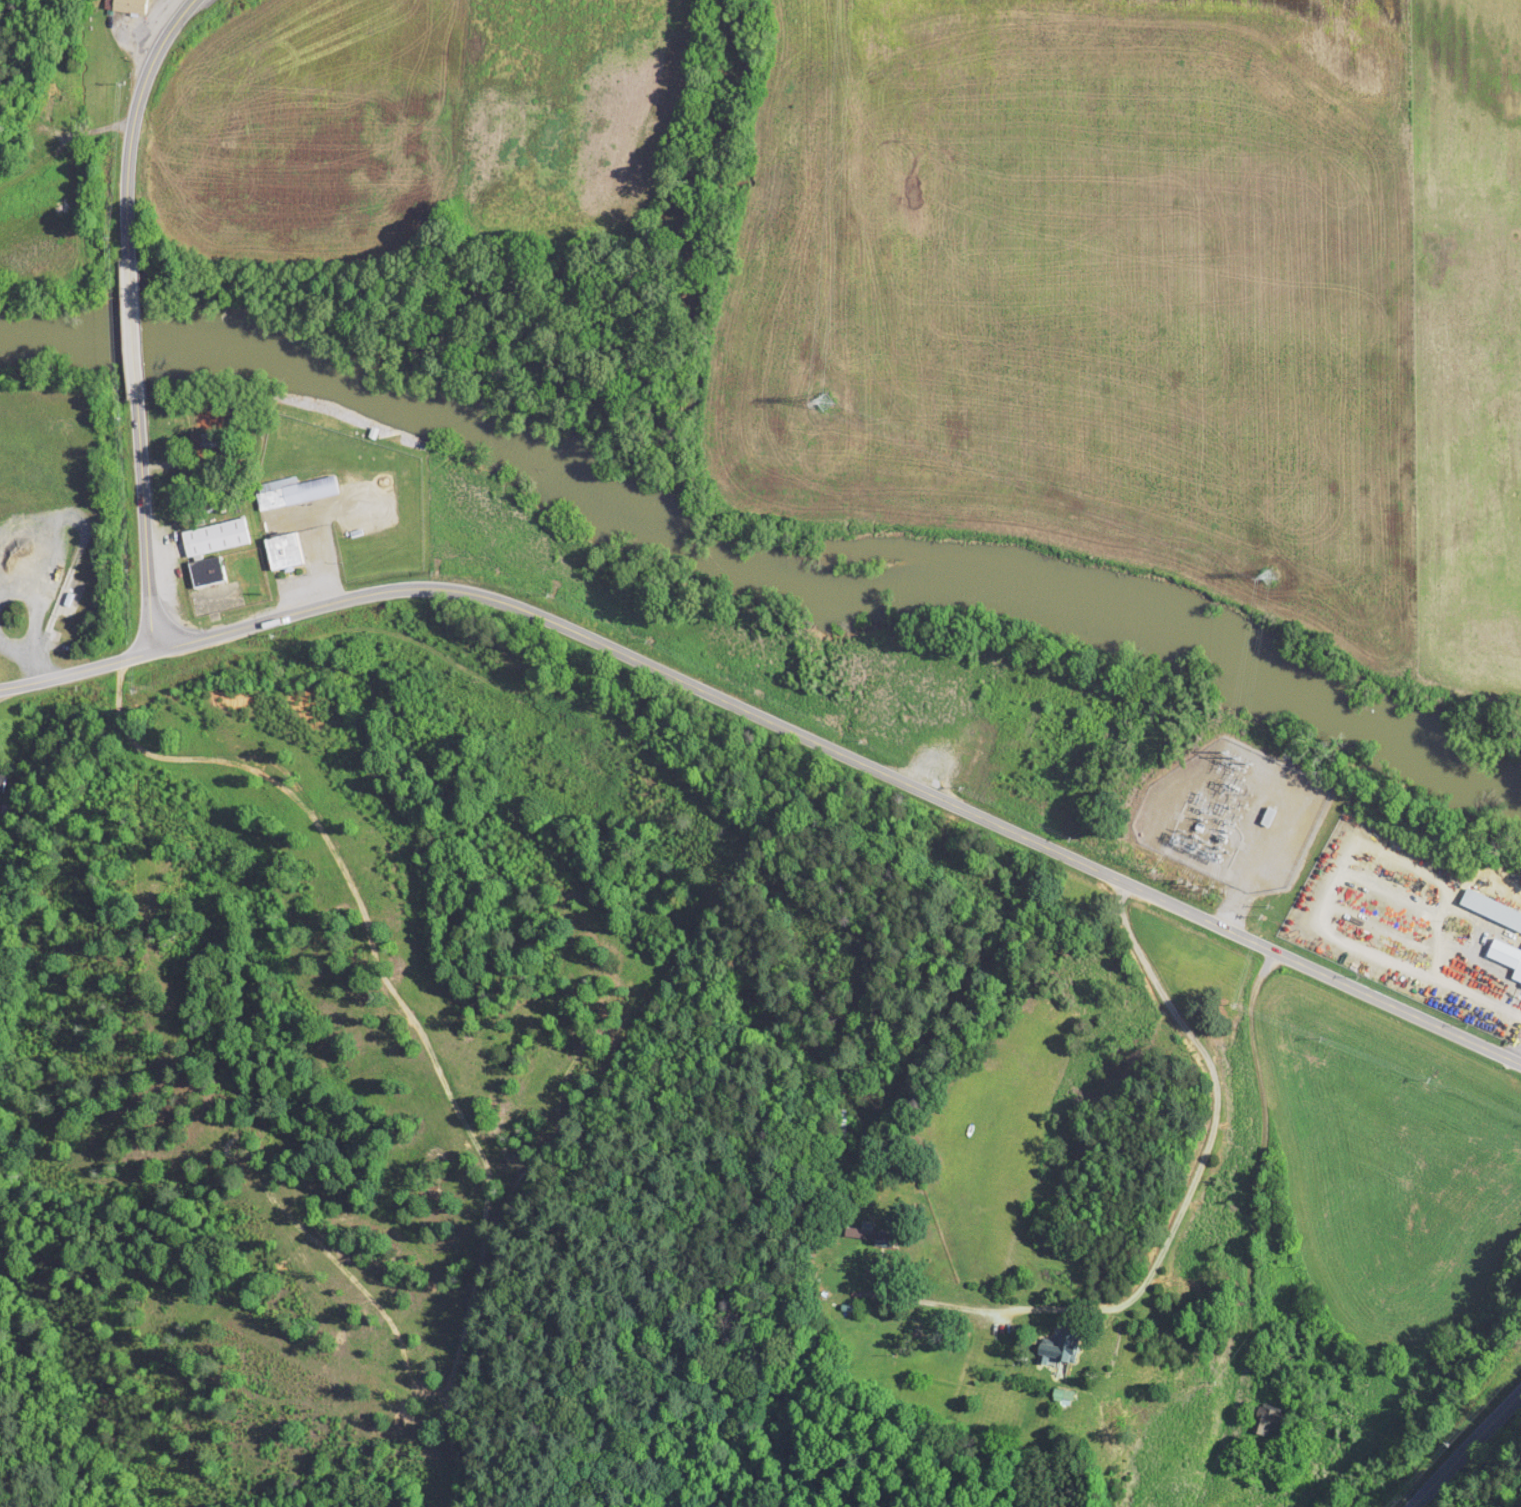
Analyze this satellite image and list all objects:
building: (134, 6)
building: (56, 105)
road: (132, 120)
road: (84, 131)
road: (37, 161)
road: (132, 327)
power tower: (826, 397)
building: (297, 491)
road: (144, 523)
building: (219, 537)
building: (286, 550)
river: (758, 557)
road: (38, 566)
building: (210, 571)
power tower: (1265, 571)
road: (10, 591)
road: (11, 643)
road: (76, 670)
road: (848, 754)
building: (4, 782)
power substation: (1231, 814)
building: (1266, 814)
building: (1254, 835)
building: (1490, 909)
building: (1520, 983)
building: (844, 1122)
road: (1259, 1176)
road: (1179, 1198)
building: (865, 1233)
building: (1053, 1345)
building: (1059, 1394)
building: (1264, 1424)
road: (1462, 1444)

